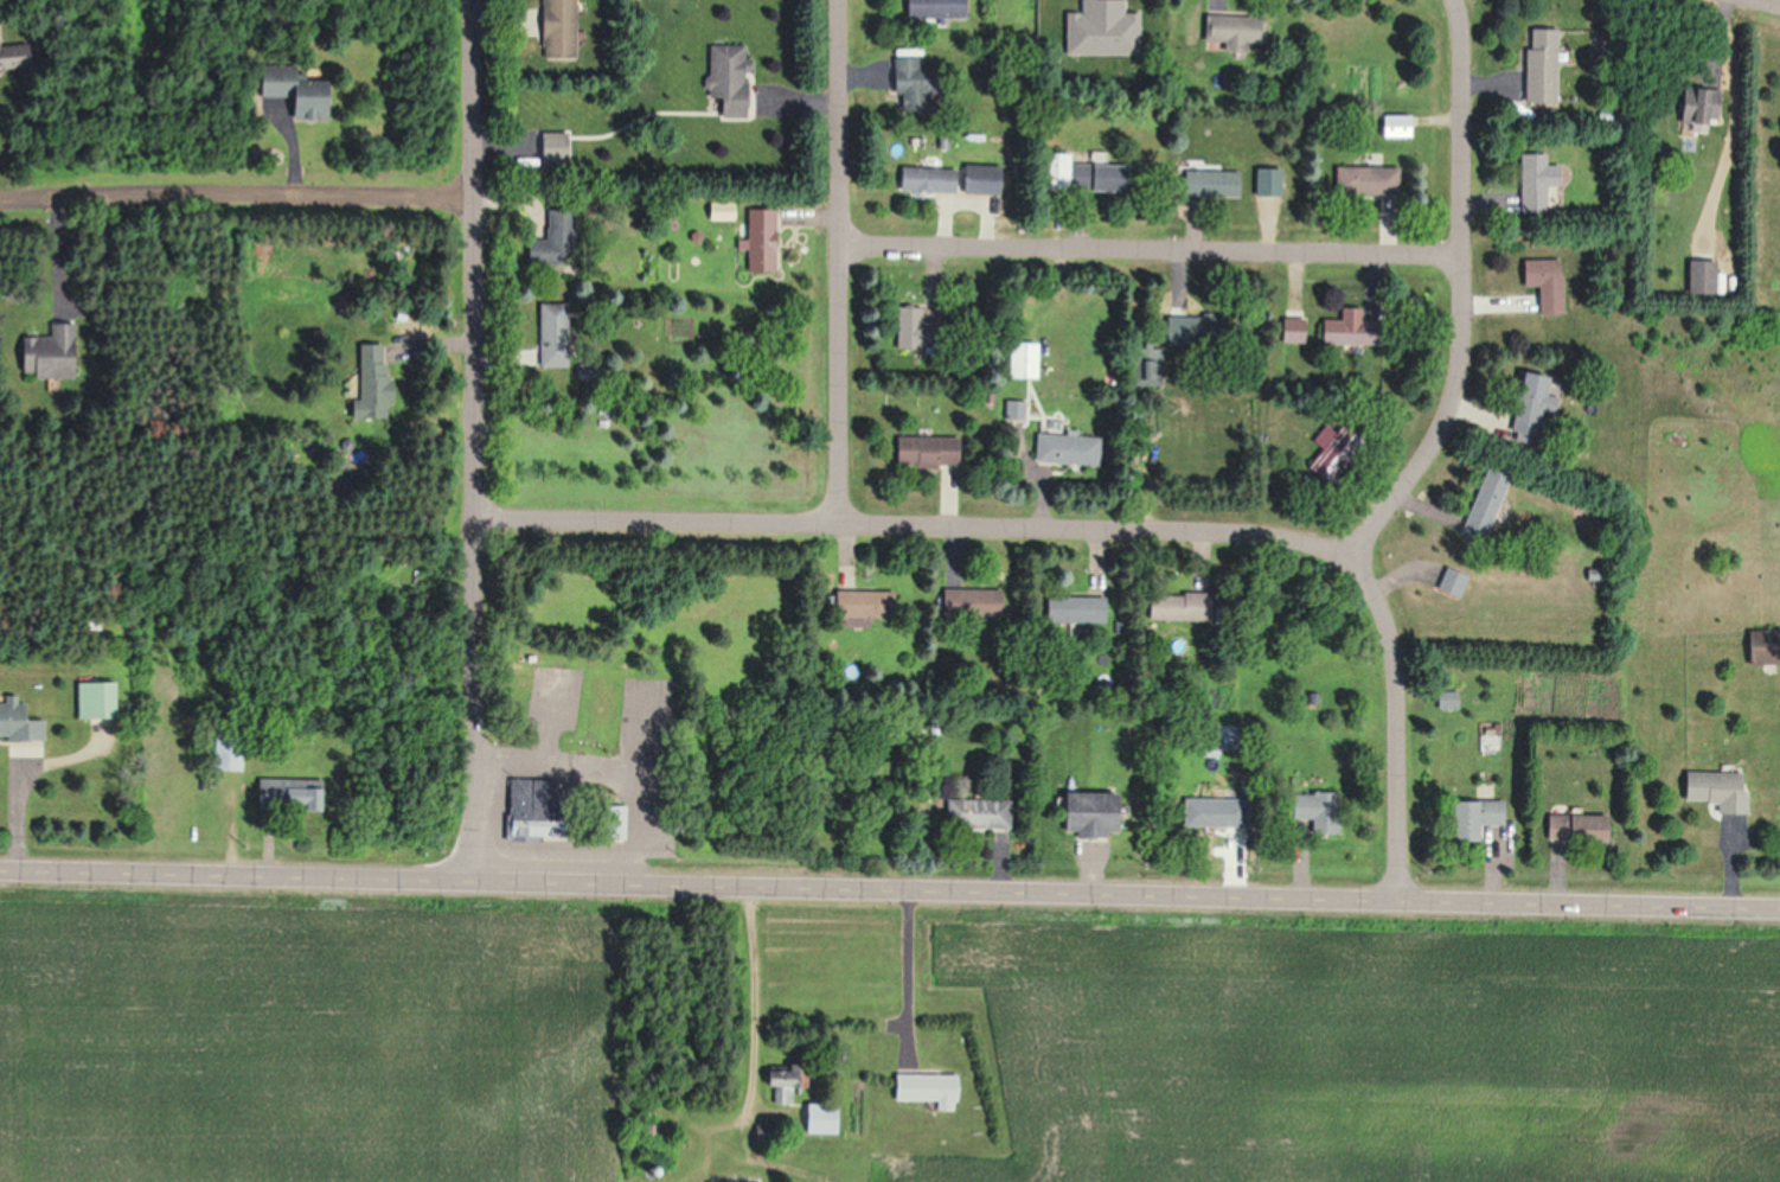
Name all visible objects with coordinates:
road: (1765, 4)
building: (930, 8)
building: (555, 30)
building: (1231, 31)
building: (1541, 64)
building: (725, 78)
building: (908, 81)
building: (1698, 107)
building: (1395, 124)
building: (551, 151)
building: (1078, 173)
building: (924, 179)
building: (979, 179)
building: (1535, 179)
building: (1366, 180)
building: (1211, 183)
road: (238, 202)
building: (552, 238)
building: (758, 239)
road: (1151, 253)
road: (839, 263)
building: (1699, 276)
building: (1544, 282)
road: (1462, 298)
building: (913, 330)
building: (1292, 331)
building: (1347, 332)
building: (551, 334)
building: (47, 352)
building: (1022, 359)
building: (367, 381)
building: (1526, 403)
building: (1016, 409)
road: (478, 439)
building: (1065, 448)
building: (922, 449)
building: (1324, 471)
building: (1483, 503)
road: (915, 528)
building: (1451, 582)
building: (967, 602)
building: (860, 603)
building: (1176, 607)
building: (1074, 609)
building: (1762, 646)
building: (95, 699)
building: (1447, 699)
building: (18, 720)
road: (1396, 726)
building: (222, 749)
building: (1715, 790)
building: (287, 794)
building: (531, 799)
road: (15, 805)
building: (1314, 809)
building: (1214, 812)
building: (978, 813)
building: (1084, 813)
building: (1472, 817)
building: (612, 823)
building: (1574, 828)
building: (531, 831)
road: (890, 888)
road: (747, 998)
crop: (312, 1034)
crop: (1319, 1039)
building: (785, 1084)
building: (924, 1087)
building: (818, 1118)
building: (731, 1180)

